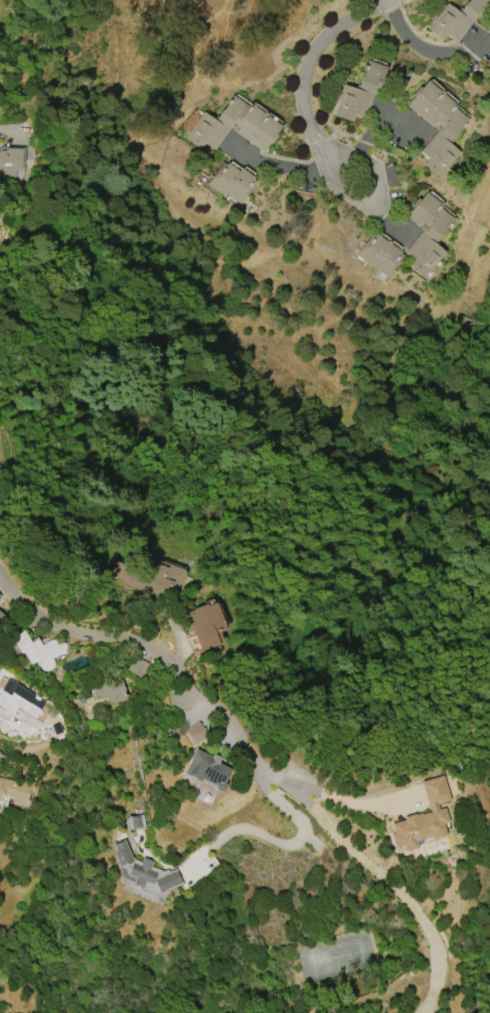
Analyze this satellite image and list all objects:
building: (456, 18)
building: (488, 30)
road: (424, 50)
building: (489, 65)
road: (305, 93)
building: (359, 93)
building: (235, 121)
road: (9, 132)
building: (446, 132)
road: (373, 134)
building: (10, 162)
road: (274, 166)
building: (232, 183)
building: (426, 233)
building: (379, 254)
building: (154, 577)
building: (0, 596)
building: (1, 617)
building: (205, 625)
building: (38, 650)
road: (152, 651)
building: (137, 666)
building: (107, 690)
building: (19, 699)
building: (196, 733)
road: (36, 759)
building: (206, 769)
building: (16, 789)
road: (370, 816)
building: (423, 817)
building: (135, 820)
road: (291, 849)
building: (142, 871)
road: (396, 880)

